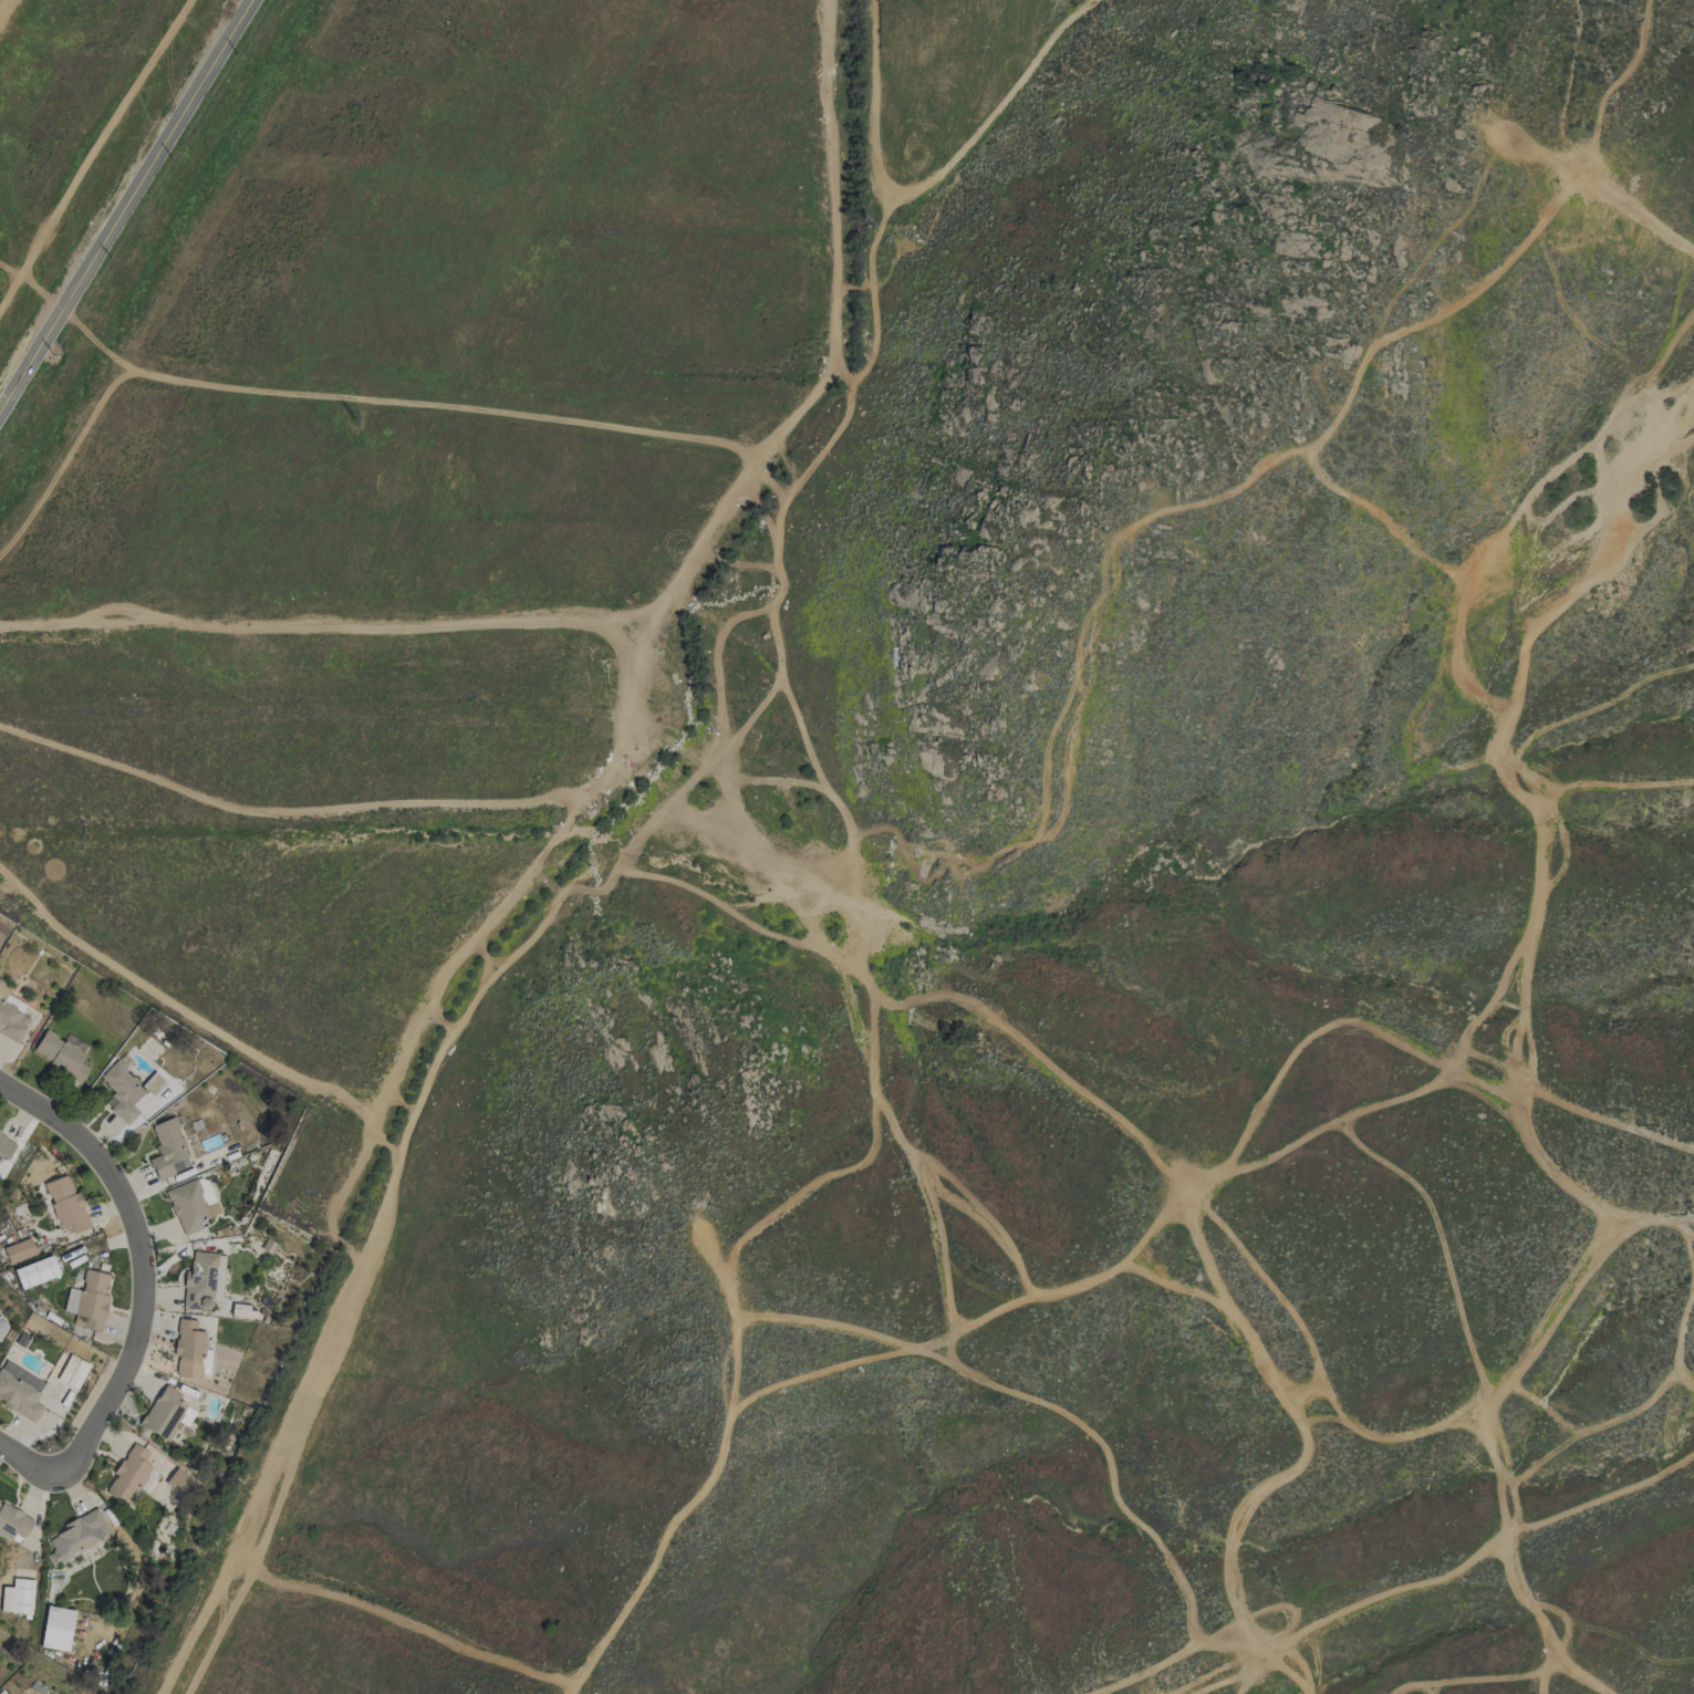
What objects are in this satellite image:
road: (1589, 144)
road: (927, 183)
road: (127, 205)
building: (11, 1016)
building: (60, 1056)
road: (1522, 1057)
building: (122, 1091)
building: (6, 1147)
building: (168, 1150)
building: (65, 1204)
building: (191, 1204)
building: (19, 1250)
road: (142, 1265)
building: (35, 1271)
building: (202, 1280)
building: (89, 1300)
building: (240, 1310)
building: (2, 1328)
building: (189, 1349)
building: (19, 1391)
building: (164, 1413)
road: (28, 1463)
building: (128, 1475)
building: (180, 1482)
building: (12, 1522)
building: (77, 1536)
building: (17, 1597)
building: (56, 1628)

